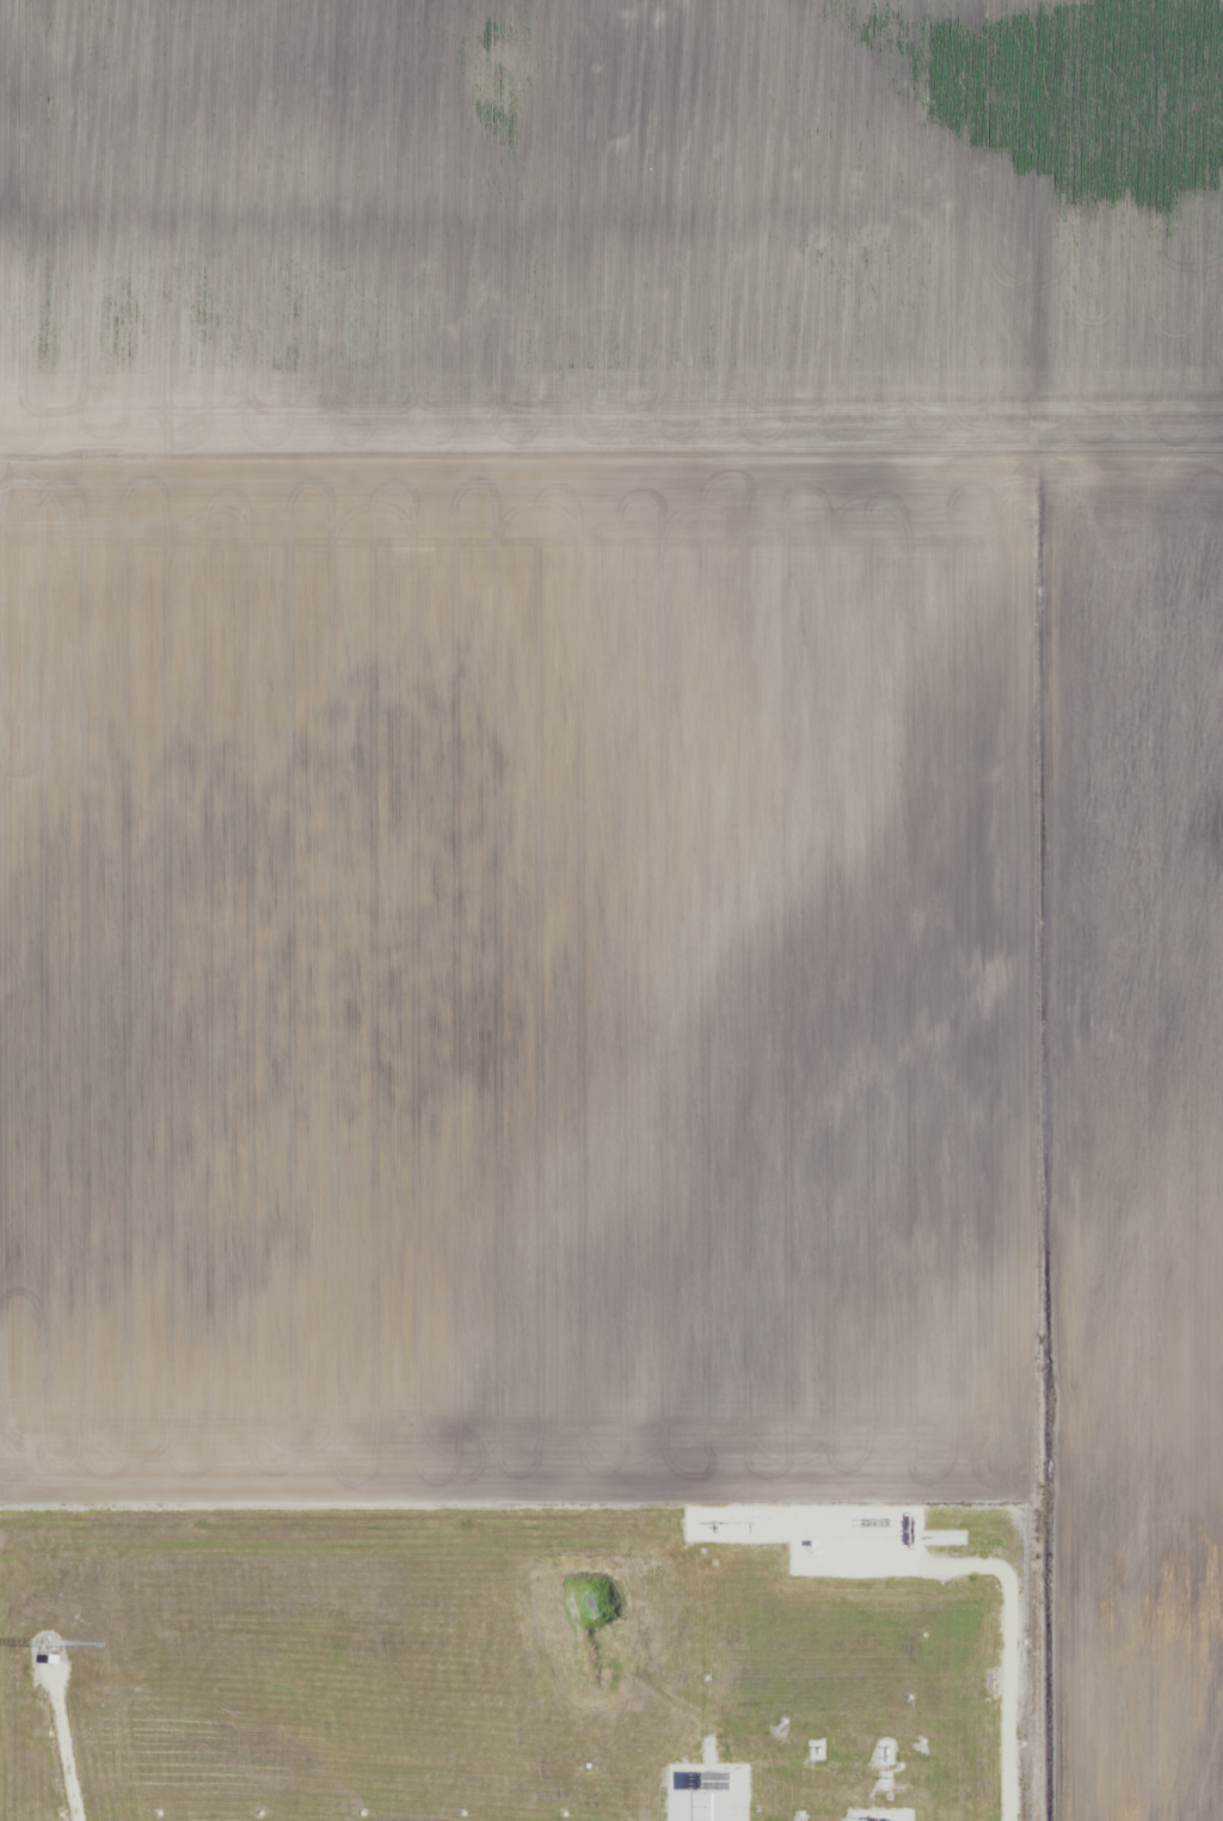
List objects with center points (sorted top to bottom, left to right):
road: (586, 1534)

